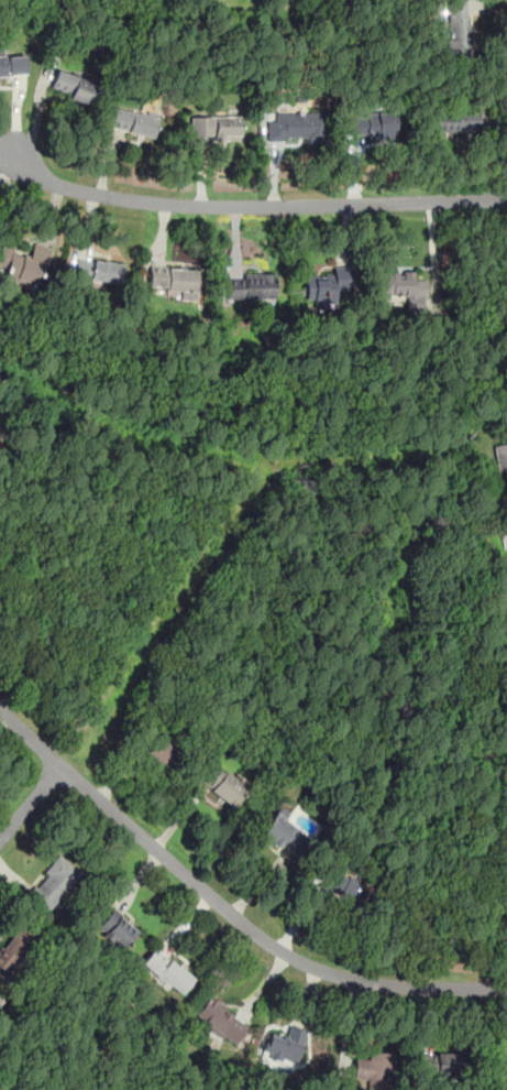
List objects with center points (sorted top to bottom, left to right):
building: (459, 28)
building: (13, 65)
building: (73, 87)
road: (38, 111)
building: (133, 121)
building: (456, 121)
building: (297, 126)
building: (373, 126)
building: (217, 128)
road: (9, 150)
road: (9, 159)
road: (10, 167)
road: (256, 206)
building: (24, 263)
building: (99, 270)
building: (172, 280)
building: (253, 285)
building: (327, 285)
building: (400, 286)
building: (502, 460)
building: (163, 751)
building: (223, 785)
road: (30, 802)
building: (284, 832)
building: (53, 883)
building: (346, 889)
road: (225, 908)
building: (117, 929)
building: (14, 947)
building: (167, 971)
building: (0, 1000)
building: (218, 1018)
building: (282, 1043)
building: (441, 1065)
building: (503, 1065)
building: (373, 1067)

